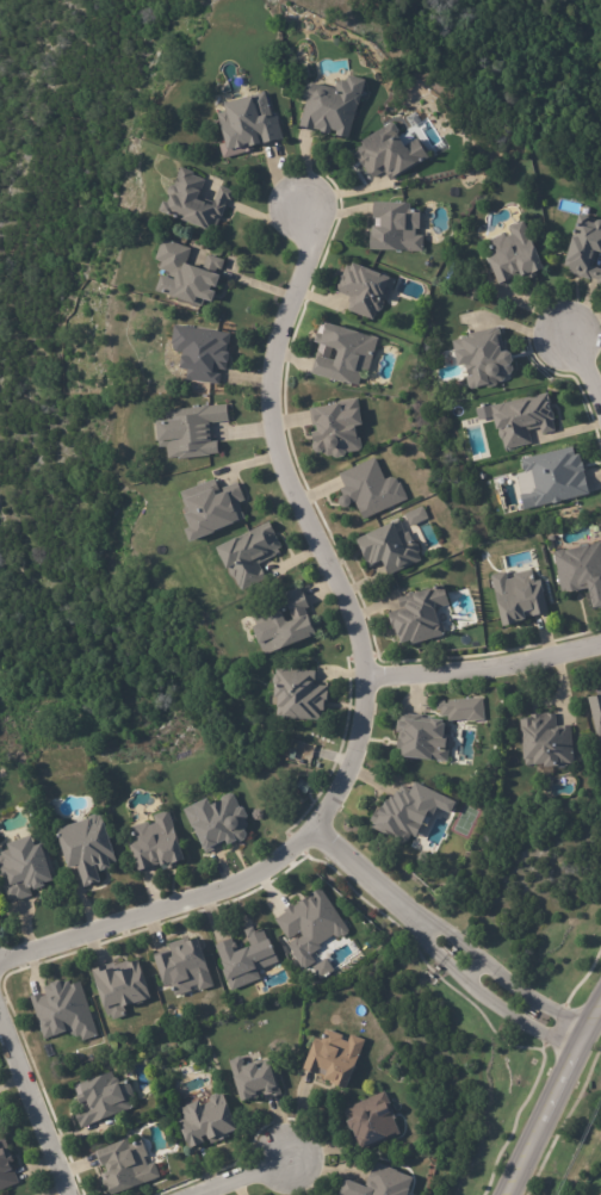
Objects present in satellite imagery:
building: (335, 105)
building: (252, 124)
building: (392, 153)
building: (194, 202)
building: (396, 227)
building: (584, 248)
building: (516, 255)
building: (190, 274)
building: (367, 289)
building: (204, 351)
building: (346, 353)
building: (488, 358)
road: (581, 366)
building: (525, 420)
building: (337, 428)
building: (193, 431)
building: (557, 476)
building: (371, 489)
building: (212, 509)
building: (391, 546)
building: (248, 555)
building: (580, 569)
building: (523, 596)
building: (556, 600)
building: (422, 615)
building: (286, 624)
road: (485, 669)
road: (367, 679)
building: (304, 695)
building: (459, 708)
building: (597, 713)
building: (425, 736)
building: (549, 742)
building: (296, 755)
building: (306, 786)
building: (402, 816)
building: (221, 823)
building: (159, 844)
building: (91, 847)
building: (26, 868)
building: (315, 922)
road: (445, 939)
building: (249, 959)
building: (185, 967)
building: (124, 987)
building: (66, 1011)
building: (336, 1058)
building: (258, 1078)
road: (549, 1096)
road: (36, 1100)
building: (105, 1101)
building: (371, 1117)
building: (0, 1120)
building: (211, 1122)
building: (7, 1165)
building: (130, 1165)
road: (246, 1174)
building: (382, 1183)
building: (599, 1193)

